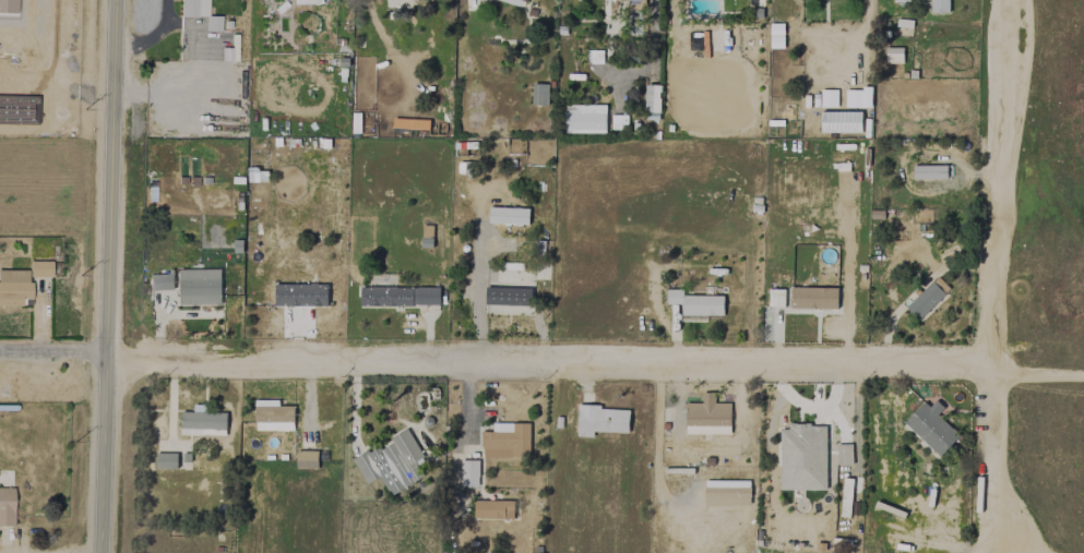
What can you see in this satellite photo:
building: (902, 0)
building: (307, 1)
building: (512, 1)
building: (634, 3)
building: (939, 5)
building: (200, 12)
road: (152, 33)
building: (893, 56)
building: (594, 57)
building: (539, 94)
building: (652, 103)
building: (583, 119)
building: (839, 121)
building: (618, 122)
building: (929, 171)
building: (39, 268)
road: (108, 276)
road: (996, 276)
building: (160, 281)
building: (14, 287)
building: (199, 287)
building: (300, 294)
building: (507, 297)
building: (813, 298)
building: (927, 298)
building: (695, 303)
road: (541, 358)
building: (272, 416)
building: (707, 417)
building: (599, 420)
building: (202, 422)
building: (931, 428)
building: (505, 441)
building: (843, 454)
building: (802, 457)
building: (306, 459)
building: (165, 460)
building: (391, 462)
building: (468, 472)
building: (726, 492)
building: (7, 506)
building: (492, 509)

